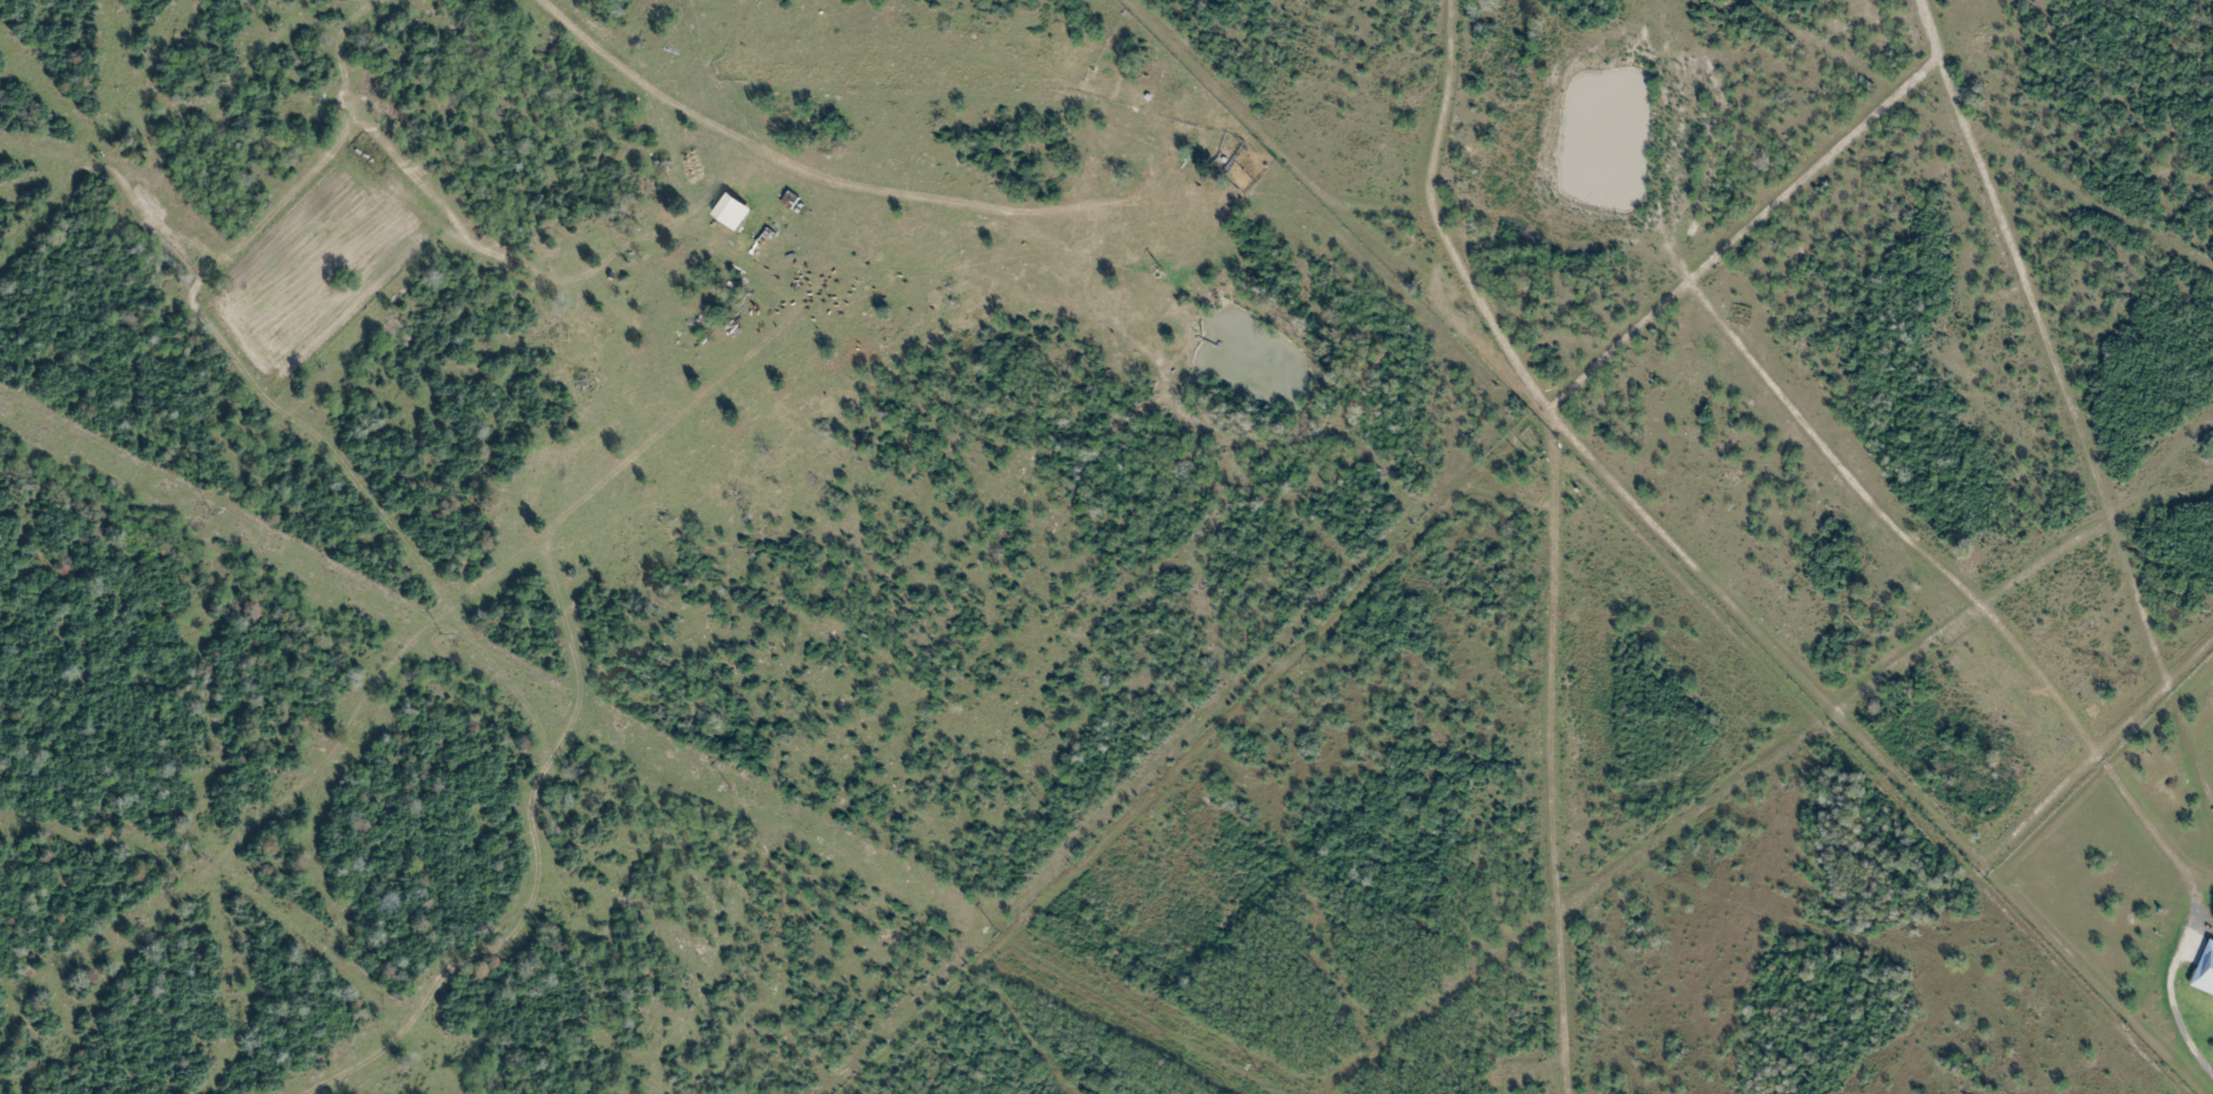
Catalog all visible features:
building: (733, 206)
building: (762, 237)
building: (2202, 965)
road: (2177, 1022)

